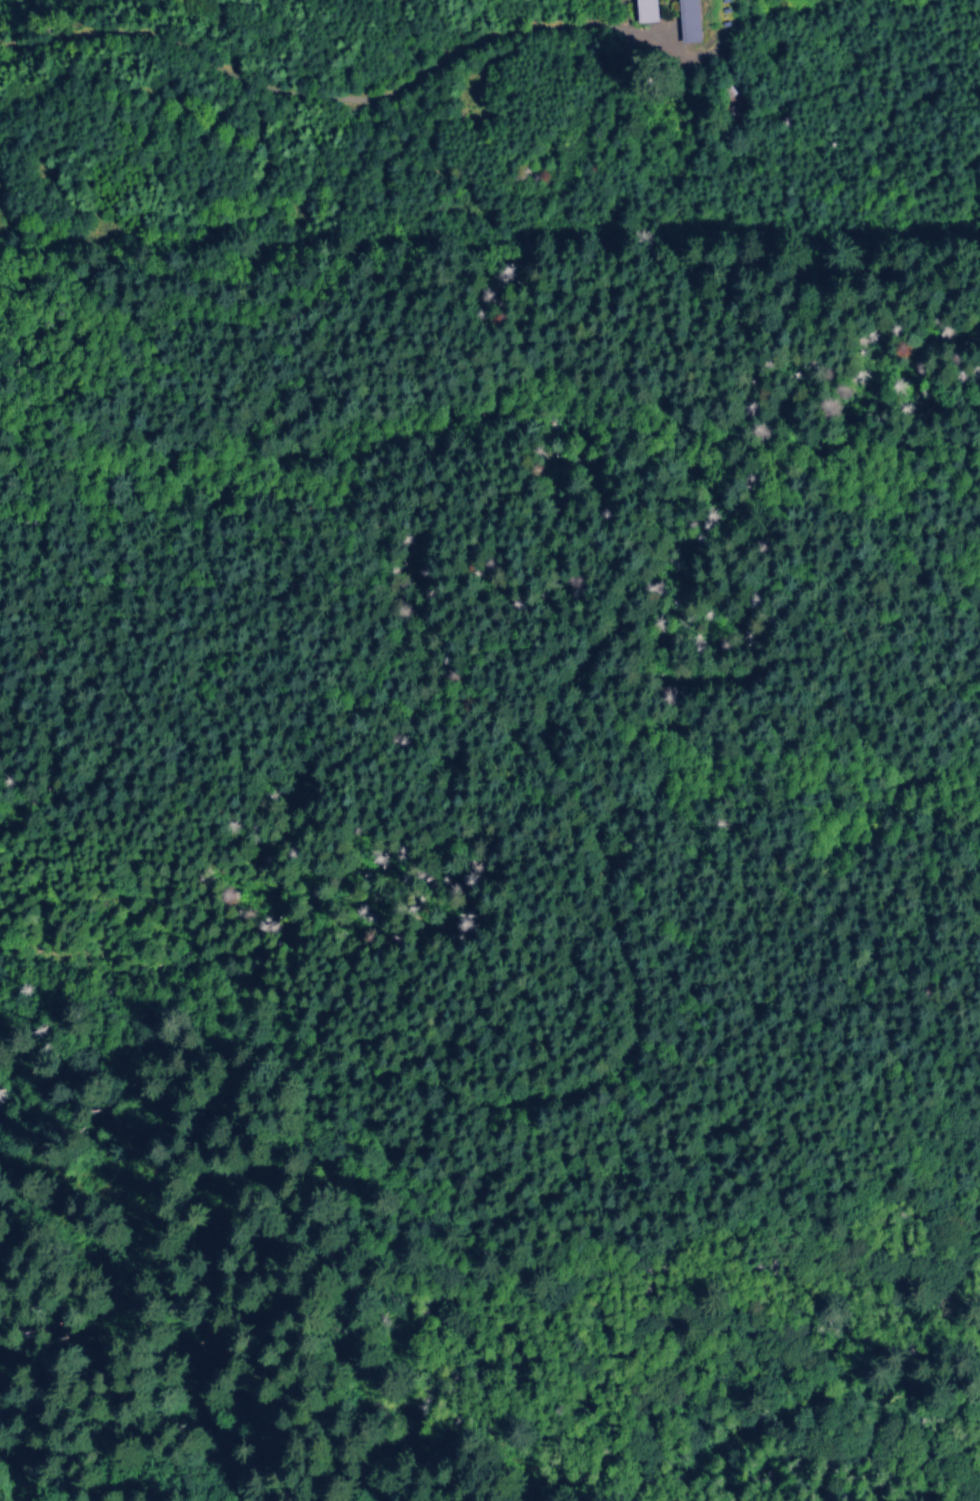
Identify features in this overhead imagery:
building: (642, 10)
building: (684, 20)
road: (354, 99)
road: (542, 1103)

